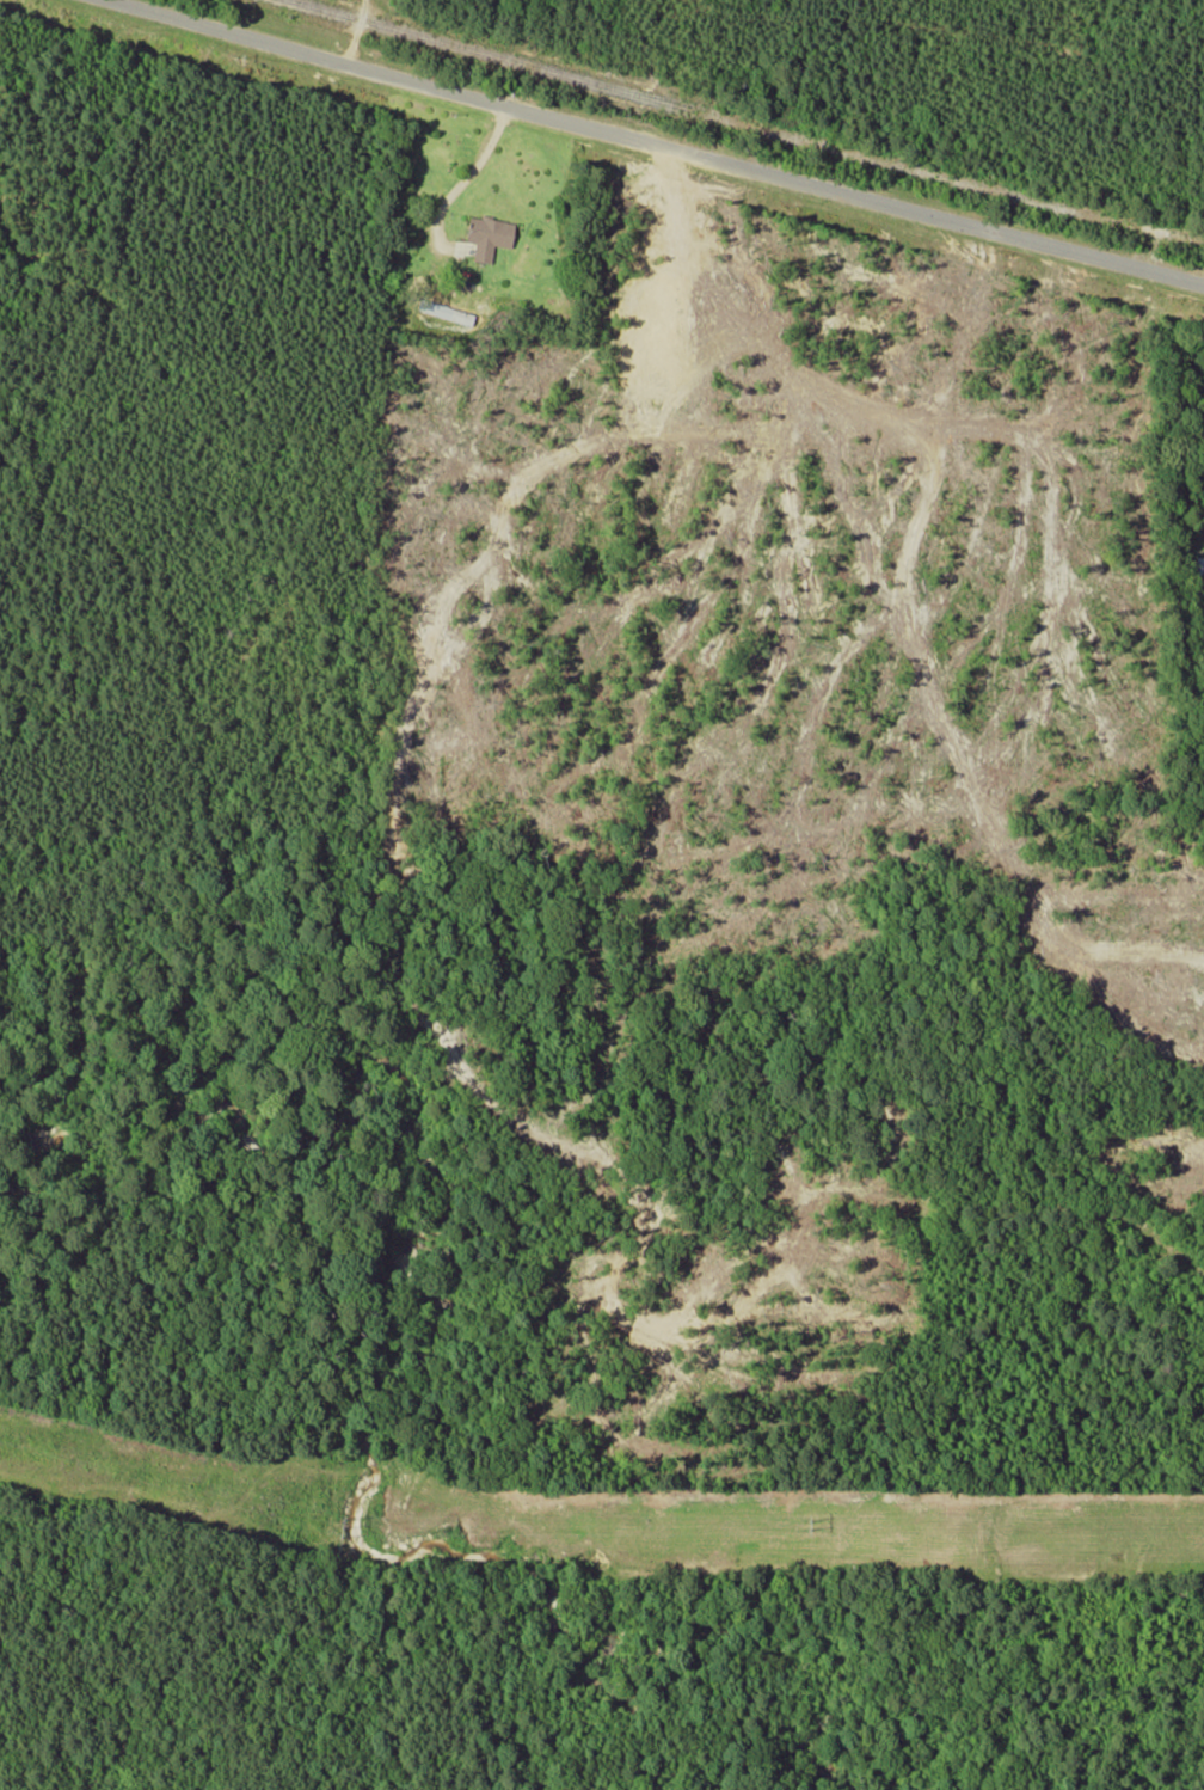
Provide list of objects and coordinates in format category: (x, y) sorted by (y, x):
railway: (745, 123)
road: (661, 141)
building: (484, 235)

